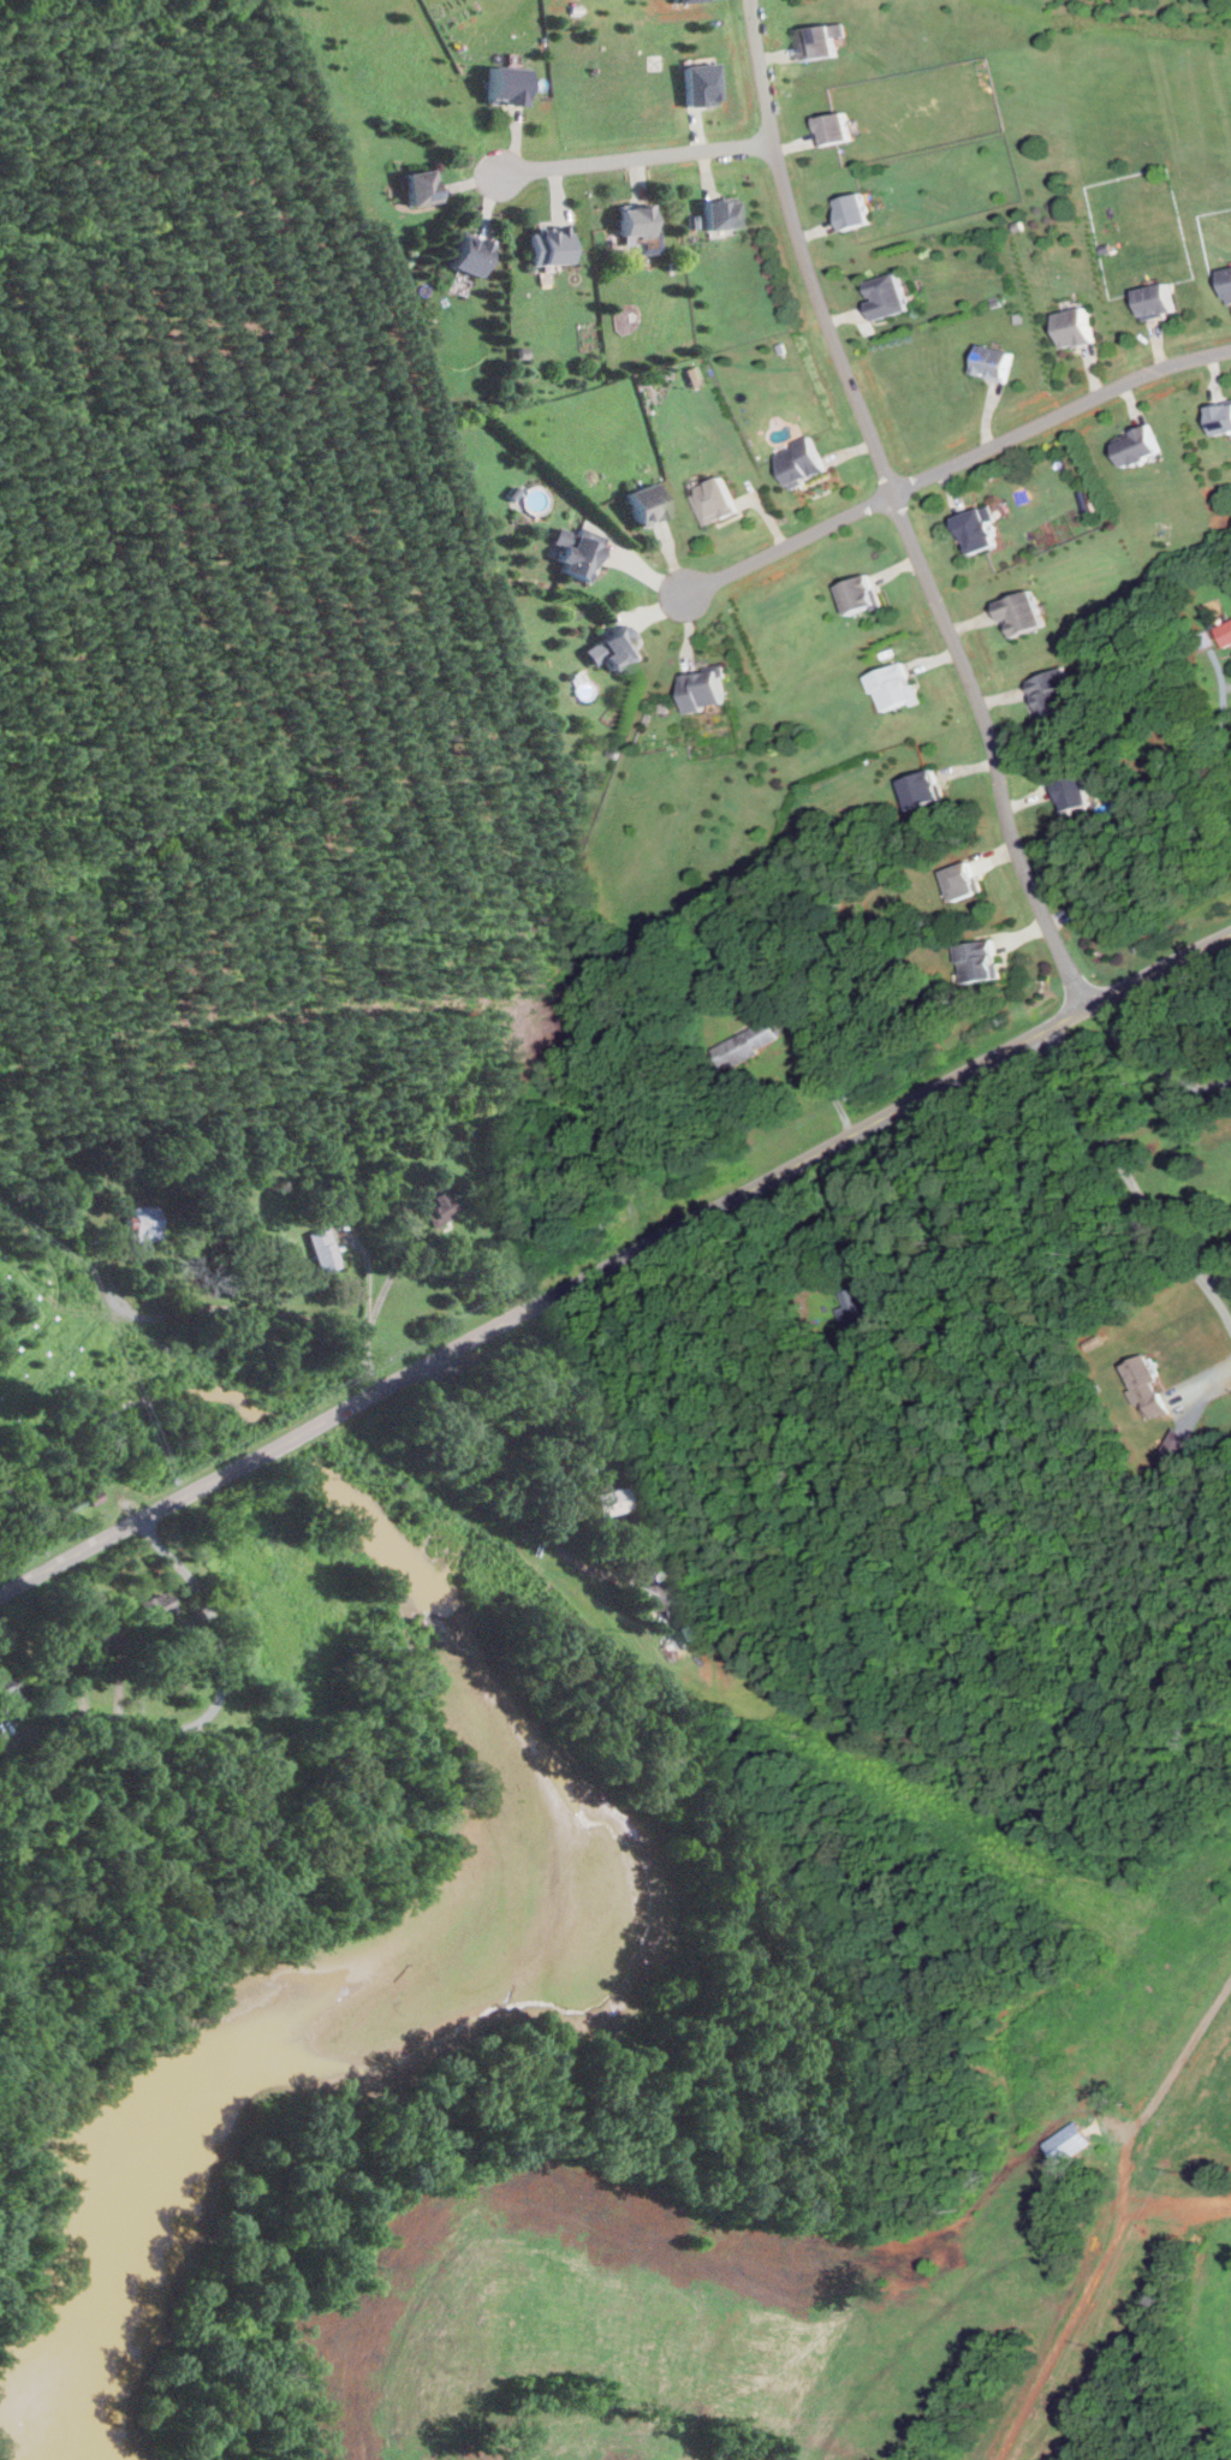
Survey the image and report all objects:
building: (673, 0)
building: (820, 40)
building: (692, 82)
building: (505, 84)
building: (833, 126)
road: (635, 158)
building: (421, 186)
building: (851, 212)
building: (722, 213)
building: (694, 221)
building: (1018, 225)
building: (640, 227)
building: (552, 244)
building: (1106, 249)
building: (471, 252)
building: (673, 263)
building: (1227, 283)
building: (885, 296)
building: (997, 299)
building: (1155, 299)
building: (1018, 317)
building: (1074, 326)
building: (784, 346)
building: (523, 353)
building: (993, 362)
building: (689, 375)
building: (1220, 417)
building: (1136, 445)
building: (804, 462)
road: (956, 462)
building: (512, 491)
building: (1083, 493)
building: (720, 500)
building: (647, 504)
road: (897, 511)
building: (975, 528)
building: (578, 552)
building: (857, 594)
building: (1019, 612)
building: (1224, 632)
building: (609, 649)
building: (886, 653)
building: (892, 687)
building: (706, 690)
building: (1049, 690)
building: (665, 706)
road: (1220, 713)
building: (618, 751)
building: (918, 789)
building: (1069, 795)
building: (958, 883)
building: (975, 961)
building: (744, 1044)
road: (1155, 1062)
road: (821, 1081)
road: (1160, 1123)
road: (1131, 1183)
building: (441, 1201)
road: (863, 1208)
building: (144, 1220)
building: (325, 1247)
road: (619, 1261)
road: (1217, 1279)
road: (383, 1294)
road: (232, 1308)
building: (1093, 1341)
road: (548, 1366)
road: (368, 1371)
building: (1144, 1383)
building: (1173, 1442)
building: (93, 1495)
building: (609, 1499)
road: (5, 1592)
building: (661, 1594)
building: (157, 1605)
building: (107, 1633)
building: (59, 1662)
building: (13, 1686)
building: (1, 1709)
road: (210, 1713)
road: (1183, 2058)
building: (1065, 2141)

